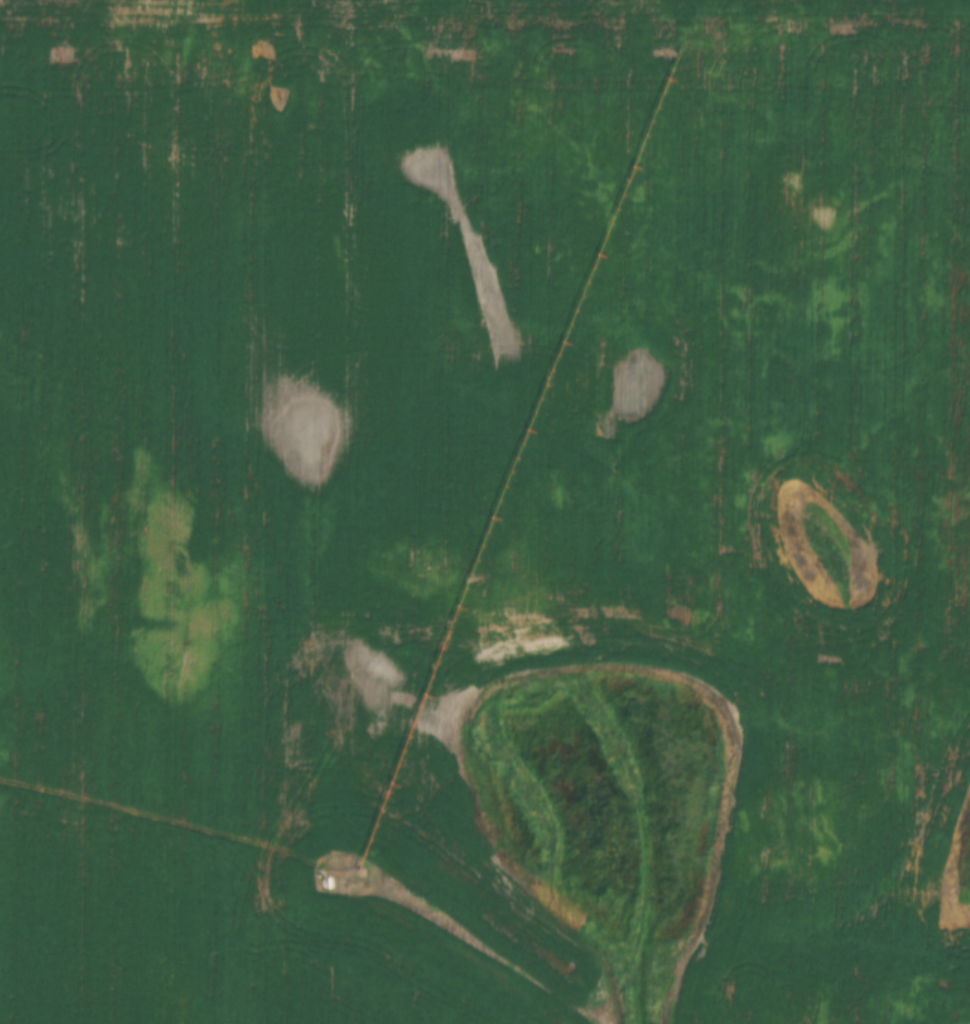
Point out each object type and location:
road: (33, 53)
building: (333, 880)

